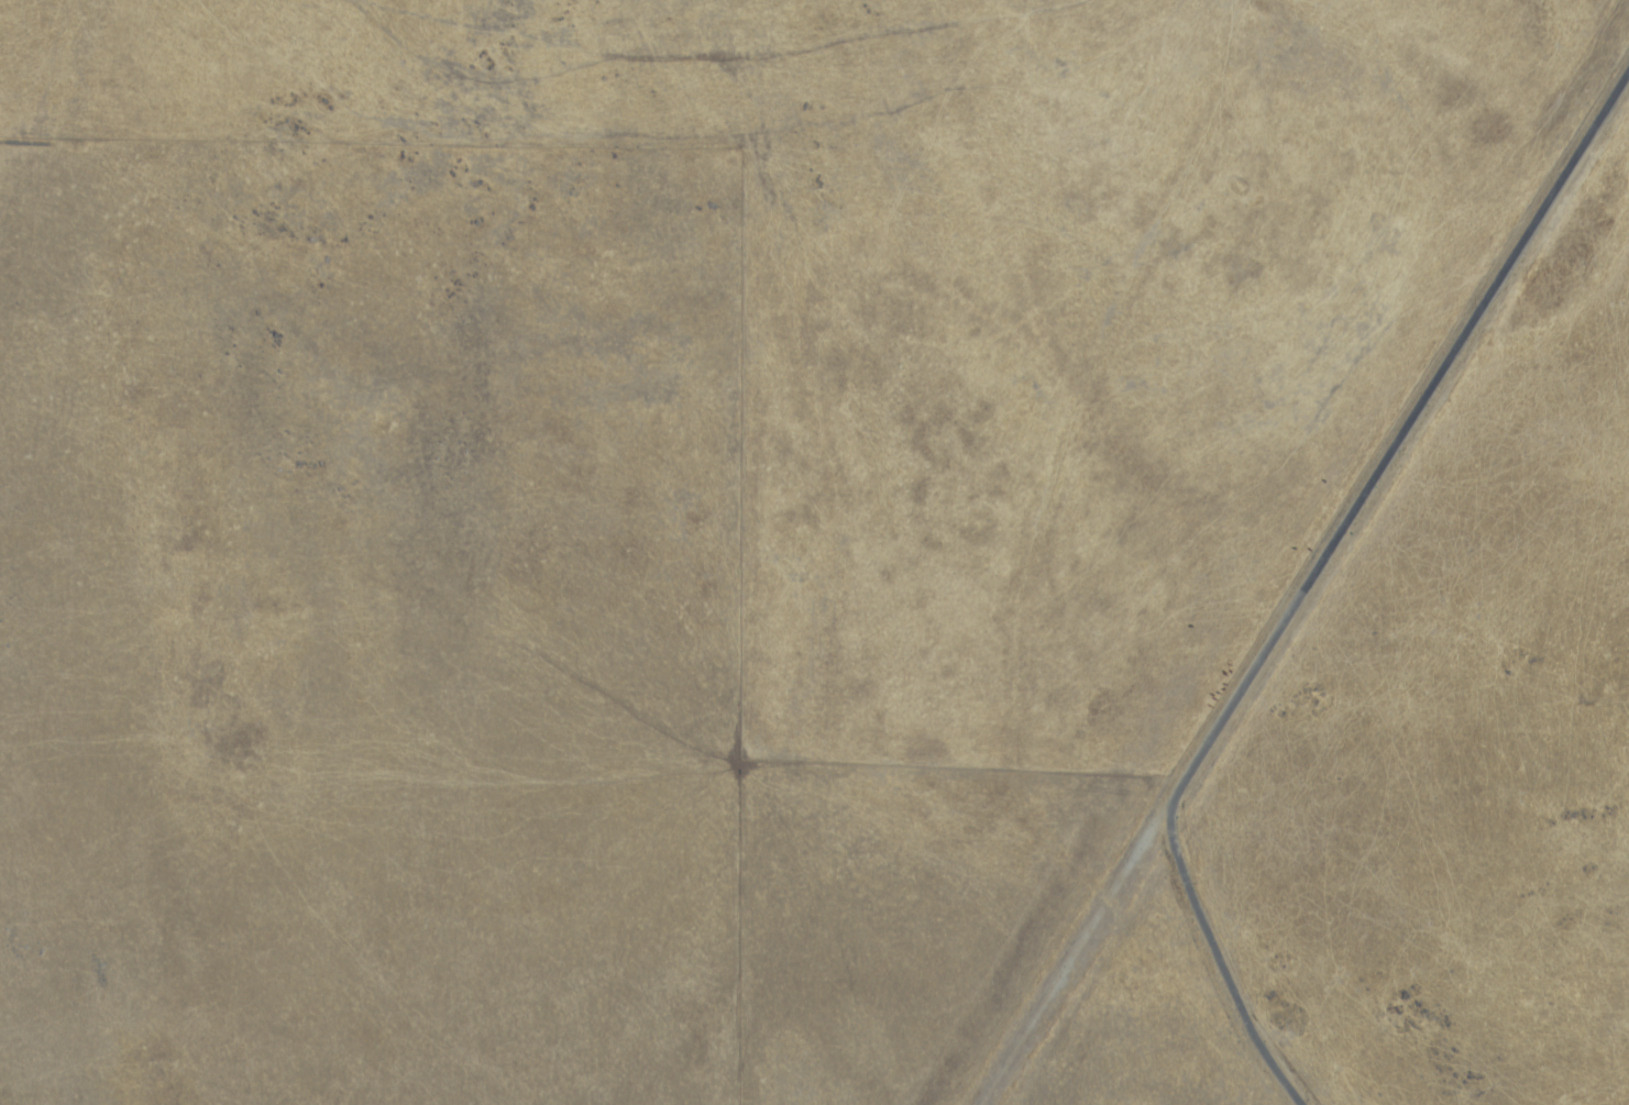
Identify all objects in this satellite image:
road: (1309, 582)

